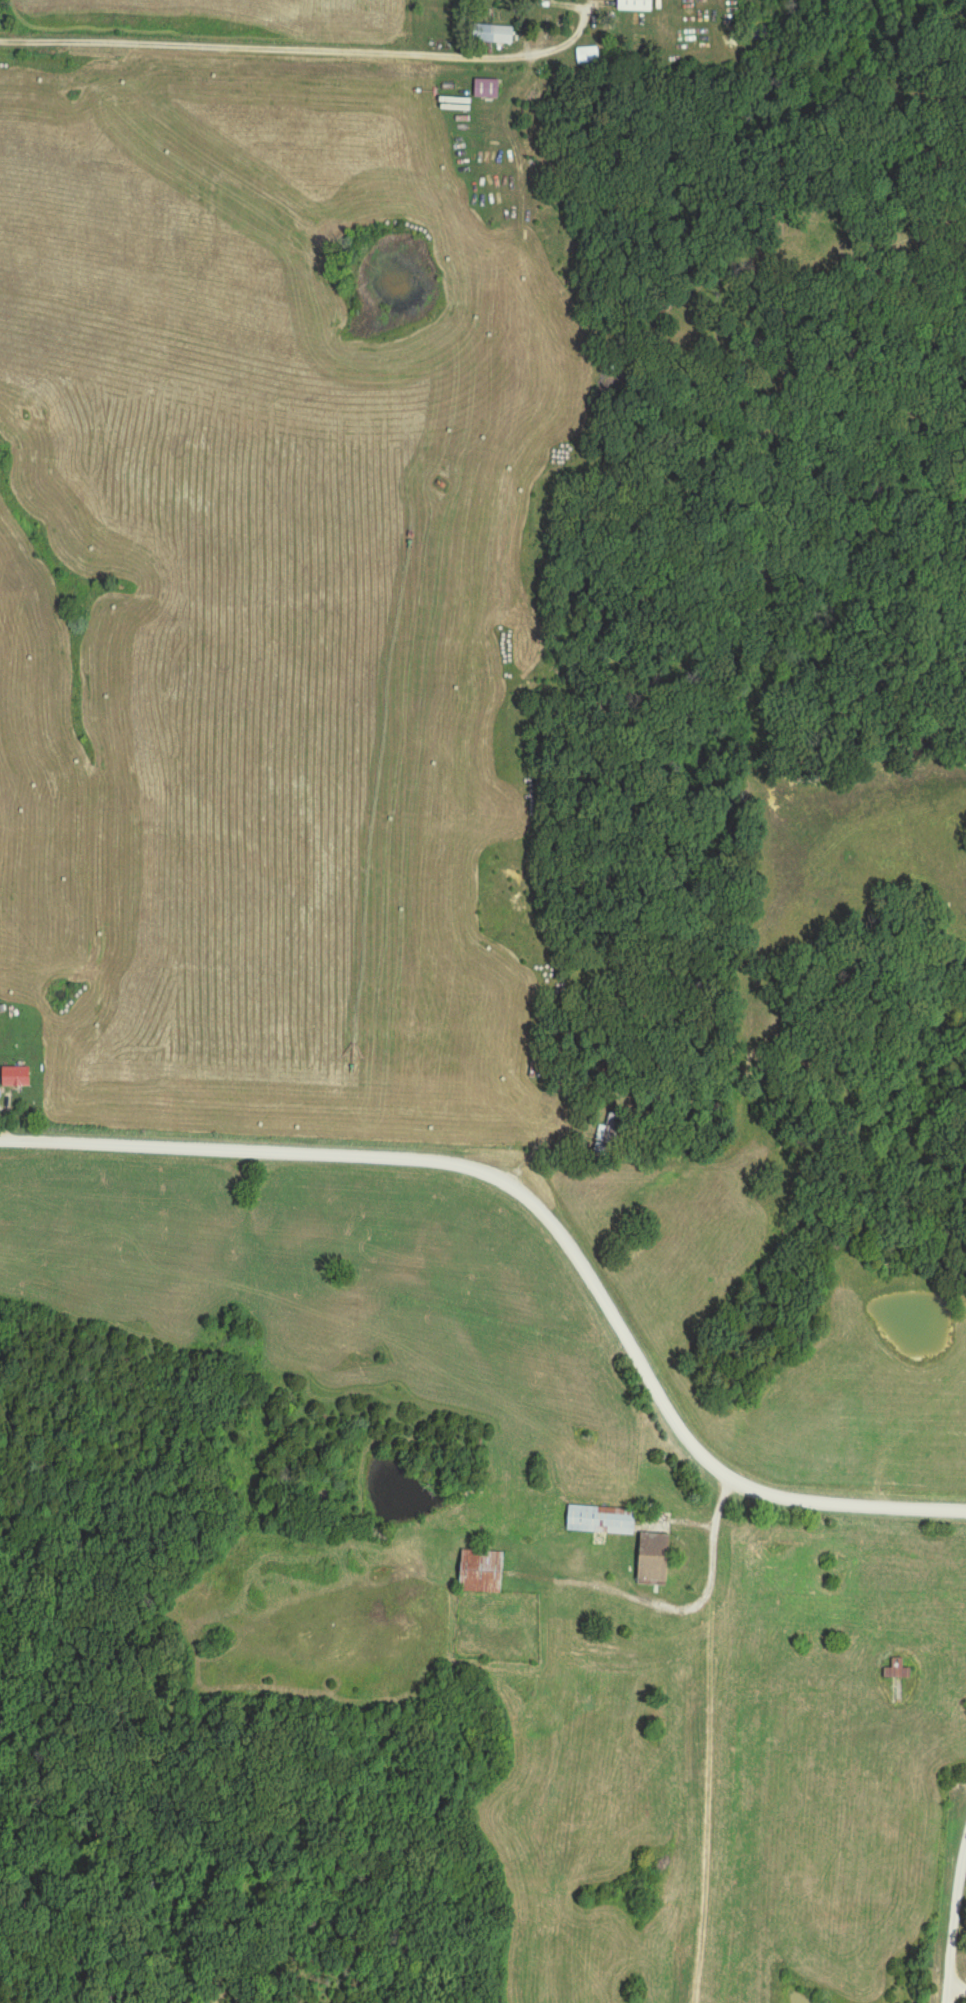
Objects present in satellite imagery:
building: (634, 5)
building: (492, 34)
road: (307, 51)
building: (486, 88)
building: (15, 1077)
building: (610, 1128)
road: (543, 1220)
building: (600, 1520)
building: (653, 1558)
road: (709, 1567)
building: (481, 1572)
building: (897, 1670)
airport runway: (713, 1825)
road: (953, 1918)
road: (956, 1992)

